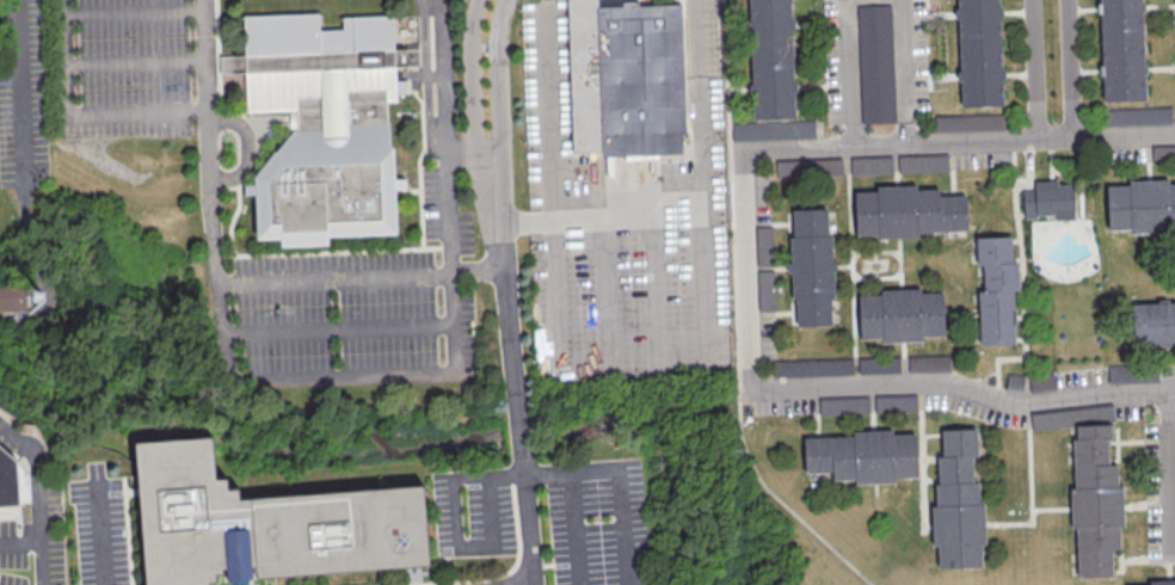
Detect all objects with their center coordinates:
road: (1157, 4)
road: (925, 5)
road: (422, 6)
road: (1083, 7)
road: (1014, 10)
parking lot: (1174, 11)
road: (940, 12)
road: (135, 16)
building: (1120, 18)
building: (978, 21)
road: (806, 23)
road: (736, 25)
building: (769, 27)
parking lot: (700, 37)
parking lot: (839, 48)
building: (875, 62)
parking lot: (875, 62)
road: (136, 64)
road: (1068, 67)
road: (1158, 67)
road: (1032, 68)
building: (1121, 68)
parking lot: (124, 69)
road: (1085, 70)
road: (902, 72)
road: (849, 73)
road: (1016, 73)
building: (979, 74)
road: (425, 75)
road: (445, 75)
road: (942, 75)
road: (472, 76)
road: (496, 76)
building: (625, 76)
road: (425, 85)
road: (808, 85)
building: (773, 86)
road: (738, 87)
road: (20, 93)
road: (550, 110)
road: (224, 112)
building: (1138, 116)
parking lot: (1138, 116)
road: (78, 118)
road: (267, 118)
building: (968, 122)
parking lot: (968, 122)
building: (325, 124)
parking lot: (818, 128)
building: (774, 129)
parking lot: (774, 129)
road: (958, 140)
road: (248, 149)
road: (467, 152)
parking lot: (1126, 153)
building: (1163, 154)
parking lot: (1163, 154)
road: (263, 155)
road: (1148, 156)
parking lot: (982, 158)
road: (1050, 158)
building: (922, 161)
parking lot: (922, 161)
building: (871, 164)
parking lot: (871, 164)
road: (894, 164)
road: (951, 165)
road: (1028, 165)
road: (420, 166)
building: (808, 166)
parking lot: (808, 166)
road: (699, 177)
road: (943, 190)
road: (959, 190)
road: (407, 195)
parking lot: (761, 198)
building: (1048, 198)
building: (1142, 205)
building: (896, 211)
building: (945, 211)
building: (959, 211)
road: (789, 213)
building: (808, 214)
road: (1019, 214)
road: (788, 217)
road: (599, 218)
road: (234, 220)
road: (767, 222)
road: (788, 227)
building: (810, 228)
road: (790, 233)
road: (1014, 239)
building: (992, 242)
building: (763, 245)
parking lot: (763, 245)
road: (332, 251)
building: (992, 255)
road: (1015, 259)
road: (898, 263)
road: (842, 265)
road: (851, 265)
building: (811, 266)
road: (1020, 266)
road: (768, 267)
road: (746, 269)
building: (999, 270)
road: (478, 273)
road: (334, 278)
building: (999, 283)
road: (1020, 285)
road: (1022, 287)
building: (765, 289)
parking lot: (765, 289)
road: (1017, 291)
road: (656, 294)
road: (604, 297)
building: (995, 297)
building: (12, 300)
road: (793, 302)
building: (812, 304)
road: (792, 307)
building: (995, 310)
parking lot: (351, 312)
road: (770, 313)
building: (899, 314)
road: (1015, 314)
road: (1019, 315)
road: (792, 318)
building: (813, 318)
road: (733, 319)
road: (1015, 320)
road: (794, 322)
building: (1154, 322)
building: (996, 325)
road: (338, 330)
park: (1077, 333)
parking lot: (765, 334)
road: (1017, 338)
building: (996, 339)
road: (903, 363)
building: (928, 363)
parking lot: (928, 363)
road: (996, 363)
building: (879, 364)
parking lot: (879, 364)
building: (812, 367)
parking lot: (812, 367)
road: (1165, 367)
road: (513, 368)
parking lot: (1167, 371)
building: (1132, 372)
parking lot: (1132, 372)
road: (564, 376)
road: (262, 380)
building: (1015, 381)
parking lot: (1015, 381)
building: (1041, 381)
parking lot: (1041, 381)
road: (964, 388)
parking lot: (934, 399)
building: (894, 404)
parking lot: (894, 404)
parking lot: (783, 406)
building: (843, 406)
parking lot: (843, 406)
road: (871, 408)
parking lot: (1131, 410)
road: (816, 411)
building: (1072, 417)
parking lot: (1072, 417)
parking lot: (1008, 418)
building: (1093, 430)
road: (1116, 430)
road: (930, 432)
road: (810, 433)
road: (823, 433)
building: (958, 433)
road: (1131, 439)
road: (1112, 441)
building: (1089, 444)
building: (958, 448)
building: (824, 452)
road: (936, 452)
building: (810, 454)
building: (873, 455)
road: (1116, 455)
road: (928, 456)
building: (1089, 457)
road: (935, 458)
road: (922, 460)
building: (954, 462)
road: (1170, 469)
building: (955, 475)
building: (8, 479)
road: (930, 480)
road: (1029, 487)
parking lot: (1161, 487)
road: (874, 488)
road: (35, 499)
road: (619, 504)
road: (1134, 505)
road: (573, 506)
building: (1095, 506)
road: (1050, 507)
building: (262, 524)
building: (958, 524)
road: (451, 529)
road: (101, 536)
road: (1120, 552)
building: (1094, 555)
road: (1136, 560)
road: (1168, 567)
building: (1094, 568)
road: (1120, 571)
building: (1162, 581)

